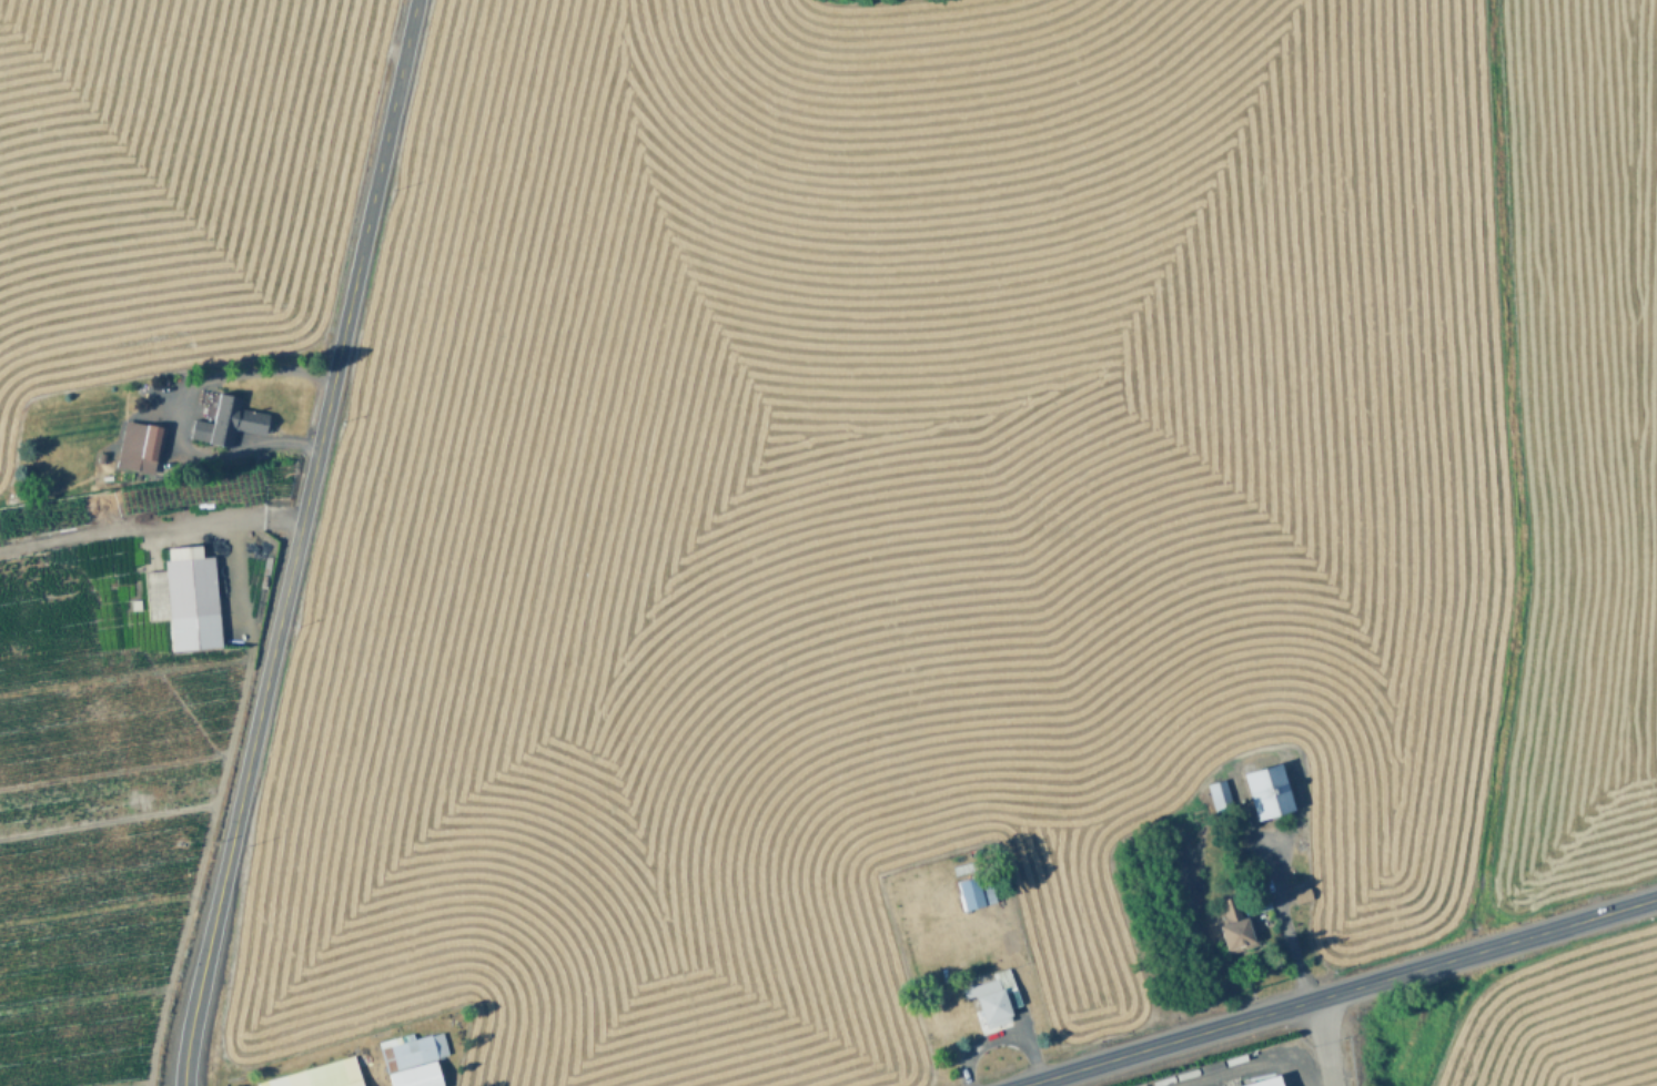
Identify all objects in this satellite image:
road: (176, 413)
building: (228, 419)
building: (140, 440)
road: (149, 522)
road: (293, 541)
building: (185, 596)
building: (18, 646)
building: (1289, 703)
building: (1270, 789)
building: (1219, 793)
building: (974, 891)
building: (1301, 894)
building: (1257, 896)
road: (1284, 921)
building: (1239, 926)
building: (981, 927)
road: (1336, 991)
building: (997, 995)
crop: (1528, 1027)
road: (1323, 1041)
building: (414, 1058)
building: (320, 1074)
building: (1265, 1083)

